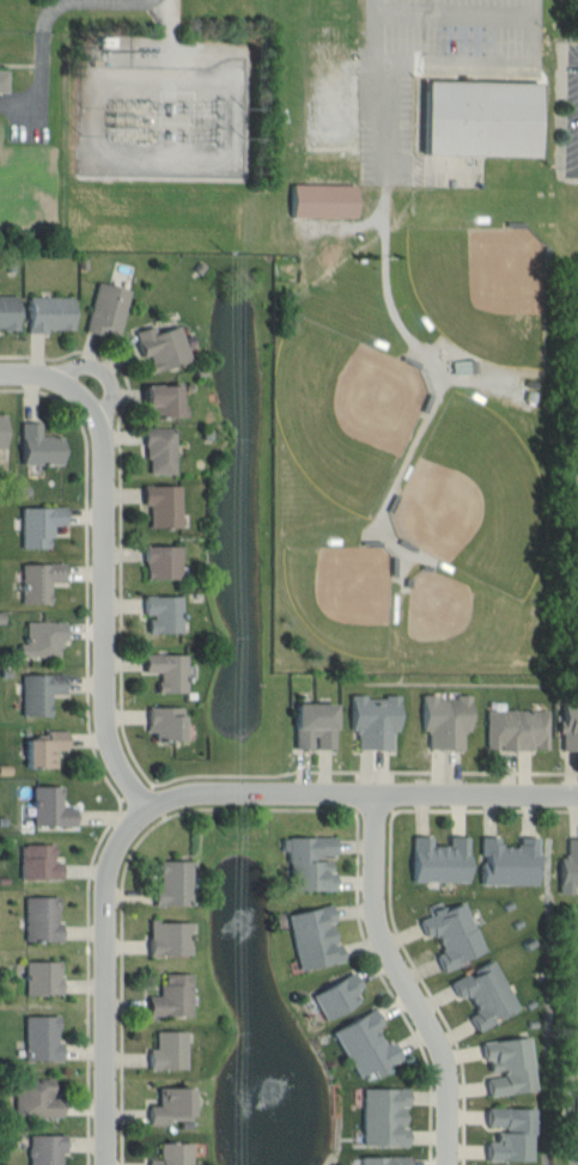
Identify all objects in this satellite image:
road: (39, 44)
building: (4, 80)
road: (384, 81)
power substation: (169, 111)
building: (483, 117)
building: (324, 200)
park: (486, 287)
building: (107, 309)
building: (10, 312)
building: (51, 313)
building: (162, 347)
road: (34, 355)
building: (463, 367)
road: (109, 371)
road: (47, 392)
building: (164, 401)
park: (348, 410)
building: (2, 429)
building: (41, 445)
building: (160, 450)
park: (481, 499)
building: (163, 505)
building: (39, 525)
road: (121, 545)
road: (108, 559)
building: (162, 561)
building: (39, 581)
park: (349, 599)
road: (87, 609)
building: (163, 614)
park: (457, 617)
building: (43, 639)
building: (168, 671)
building: (41, 693)
building: (375, 720)
building: (446, 720)
building: (165, 724)
building: (316, 726)
building: (570, 726)
building: (517, 730)
building: (47, 749)
road: (361, 770)
road: (365, 797)
building: (51, 807)
road: (261, 807)
road: (476, 809)
road: (116, 816)
road: (162, 821)
building: (440, 860)
building: (39, 862)
building: (310, 862)
building: (510, 862)
building: (568, 868)
building: (174, 884)
building: (42, 919)
building: (454, 934)
building: (315, 938)
building: (169, 939)
building: (43, 978)
road: (111, 981)
road: (410, 981)
road: (389, 987)
road: (428, 987)
road: (122, 989)
road: (89, 994)
building: (486, 994)
building: (337, 996)
building: (172, 998)
building: (42, 1039)
building: (366, 1045)
building: (169, 1051)
building: (510, 1066)
building: (36, 1098)
building: (172, 1104)
building: (576, 1109)
building: (384, 1116)
building: (511, 1133)
building: (45, 1149)
building: (172, 1153)
building: (384, 1159)

